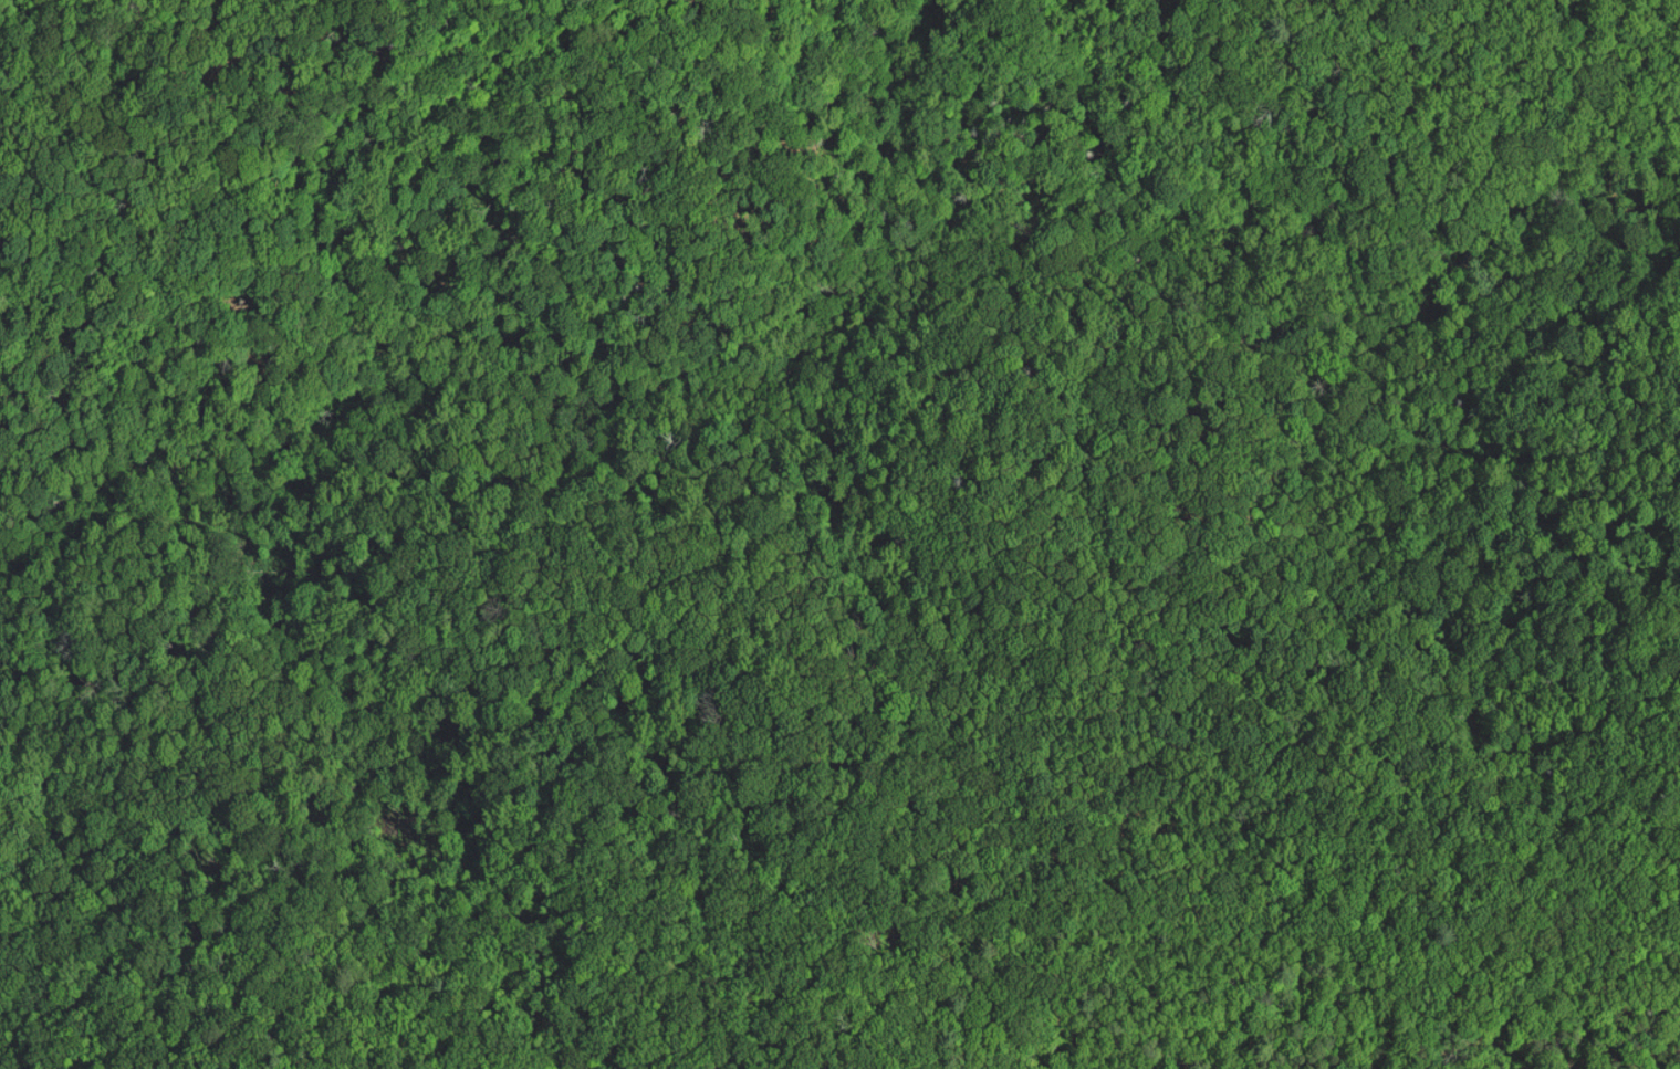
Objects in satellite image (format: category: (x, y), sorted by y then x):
road: (1546, 993)

